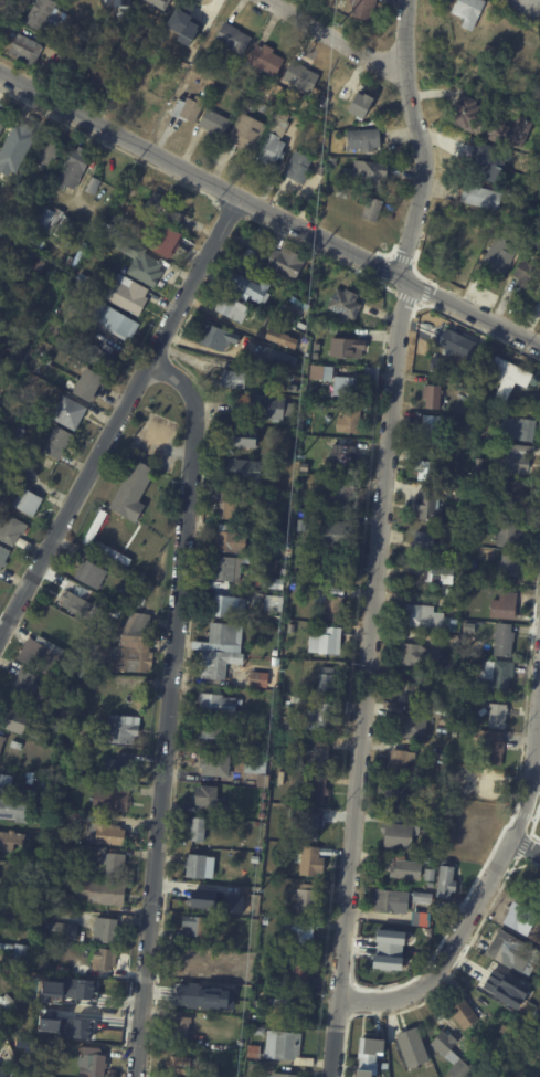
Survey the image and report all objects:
building: (121, 1)
building: (158, 3)
building: (366, 9)
building: (472, 12)
building: (44, 14)
building: (182, 25)
building: (14, 34)
road: (335, 35)
building: (236, 40)
building: (27, 50)
building: (108, 57)
building: (268, 61)
building: (71, 65)
building: (99, 77)
building: (304, 77)
building: (205, 94)
building: (131, 97)
building: (322, 99)
building: (363, 106)
building: (264, 108)
building: (189, 110)
building: (284, 115)
building: (2, 119)
building: (476, 119)
building: (218, 125)
building: (517, 134)
building: (246, 136)
road: (421, 138)
building: (366, 139)
building: (14, 148)
building: (51, 151)
building: (274, 151)
building: (481, 160)
building: (333, 162)
building: (75, 169)
building: (301, 169)
building: (322, 171)
building: (370, 176)
building: (8, 177)
building: (134, 179)
building: (46, 183)
building: (95, 186)
building: (486, 199)
building: (166, 208)
road: (268, 210)
building: (373, 211)
building: (49, 219)
building: (108, 223)
building: (96, 228)
building: (35, 241)
building: (168, 242)
building: (9, 250)
building: (137, 257)
building: (501, 257)
building: (289, 262)
building: (40, 265)
building: (529, 277)
building: (84, 278)
building: (253, 288)
building: (129, 294)
building: (539, 296)
building: (348, 304)
building: (234, 308)
building: (75, 314)
building: (293, 318)
building: (118, 324)
building: (300, 324)
building: (275, 335)
building: (220, 338)
building: (293, 342)
building: (460, 344)
building: (349, 347)
building: (100, 353)
building: (269, 356)
building: (316, 356)
building: (49, 360)
building: (442, 365)
building: (9, 368)
building: (479, 371)
building: (329, 373)
building: (512, 377)
building: (234, 379)
building: (357, 382)
building: (92, 384)
building: (434, 395)
building: (304, 401)
building: (269, 406)
building: (71, 413)
road: (119, 414)
building: (330, 418)
building: (352, 420)
building: (521, 426)
building: (430, 427)
building: (20, 434)
building: (470, 434)
building: (245, 437)
building: (59, 442)
building: (473, 443)
building: (233, 451)
building: (308, 456)
building: (346, 457)
power tower: (299, 458)
building: (515, 458)
building: (306, 466)
building: (480, 466)
building: (244, 469)
building: (431, 471)
building: (133, 489)
building: (516, 493)
building: (345, 496)
building: (29, 501)
building: (413, 504)
building: (230, 506)
building: (430, 506)
building: (478, 519)
building: (95, 528)
building: (13, 530)
building: (477, 532)
building: (340, 534)
building: (511, 534)
building: (287, 539)
building: (233, 540)
building: (425, 540)
building: (114, 553)
building: (3, 556)
building: (261, 562)
building: (511, 566)
building: (230, 568)
building: (338, 568)
building: (295, 570)
building: (285, 572)
building: (443, 573)
building: (93, 574)
building: (251, 578)
building: (294, 579)
building: (275, 583)
building: (317, 590)
building: (94, 595)
building: (77, 601)
building: (127, 602)
building: (276, 603)
building: (230, 604)
building: (333, 606)
building: (456, 606)
building: (507, 606)
building: (432, 617)
building: (280, 620)
building: (293, 627)
building: (226, 637)
building: (507, 640)
building: (328, 641)
building: (134, 646)
building: (276, 653)
building: (43, 655)
building: (422, 656)
building: (221, 664)
building: (92, 671)
power tower: (279, 672)
building: (87, 676)
road: (368, 678)
building: (499, 678)
building: (261, 679)
building: (329, 682)
building: (27, 685)
building: (276, 686)
building: (82, 689)
building: (412, 695)
building: (220, 705)
road: (169, 708)
building: (485, 710)
building: (445, 711)
building: (317, 714)
building: (499, 716)
building: (325, 717)
building: (14, 720)
building: (444, 721)
building: (415, 727)
building: (124, 730)
building: (38, 736)
building: (214, 737)
building: (271, 740)
building: (3, 743)
building: (18, 746)
building: (494, 747)
building: (320, 756)
building: (404, 761)
building: (121, 764)
building: (257, 764)
building: (214, 765)
building: (266, 781)
road: (537, 781)
building: (2, 782)
building: (487, 788)
building: (319, 790)
building: (7, 792)
building: (265, 795)
building: (113, 796)
building: (402, 796)
building: (210, 798)
building: (50, 805)
building: (265, 805)
building: (15, 811)
building: (263, 816)
building: (59, 819)
building: (200, 830)
building: (315, 831)
building: (436, 833)
building: (107, 834)
building: (402, 835)
building: (11, 841)
road: (527, 845)
building: (431, 860)
building: (313, 863)
building: (116, 865)
building: (198, 867)
building: (407, 869)
building: (432, 876)
power tower: (260, 883)
building: (447, 883)
building: (55, 887)
road: (484, 889)
building: (103, 893)
building: (534, 893)
building: (424, 898)
building: (308, 899)
building: (389, 901)
building: (201, 902)
building: (0, 904)
building: (235, 904)
building: (523, 919)
building: (267, 921)
building: (201, 927)
building: (67, 931)
building: (108, 931)
building: (304, 932)
building: (427, 935)
building: (387, 936)
building: (19, 951)
building: (516, 953)
building: (106, 960)
building: (269, 964)
building: (51, 968)
building: (304, 975)
building: (486, 978)
building: (201, 999)
building: (66, 1002)
building: (286, 1003)
building: (466, 1015)
building: (39, 1016)
building: (6, 1017)
building: (45, 1026)
building: (97, 1026)
building: (182, 1030)
building: (506, 1031)
building: (262, 1032)
building: (476, 1043)
building: (288, 1048)
building: (414, 1048)
building: (373, 1049)
building: (61, 1050)
building: (255, 1053)
building: (453, 1056)
building: (97, 1064)
building: (180, 1066)
building: (2, 1073)
building: (363, 1073)
building: (282, 1075)

